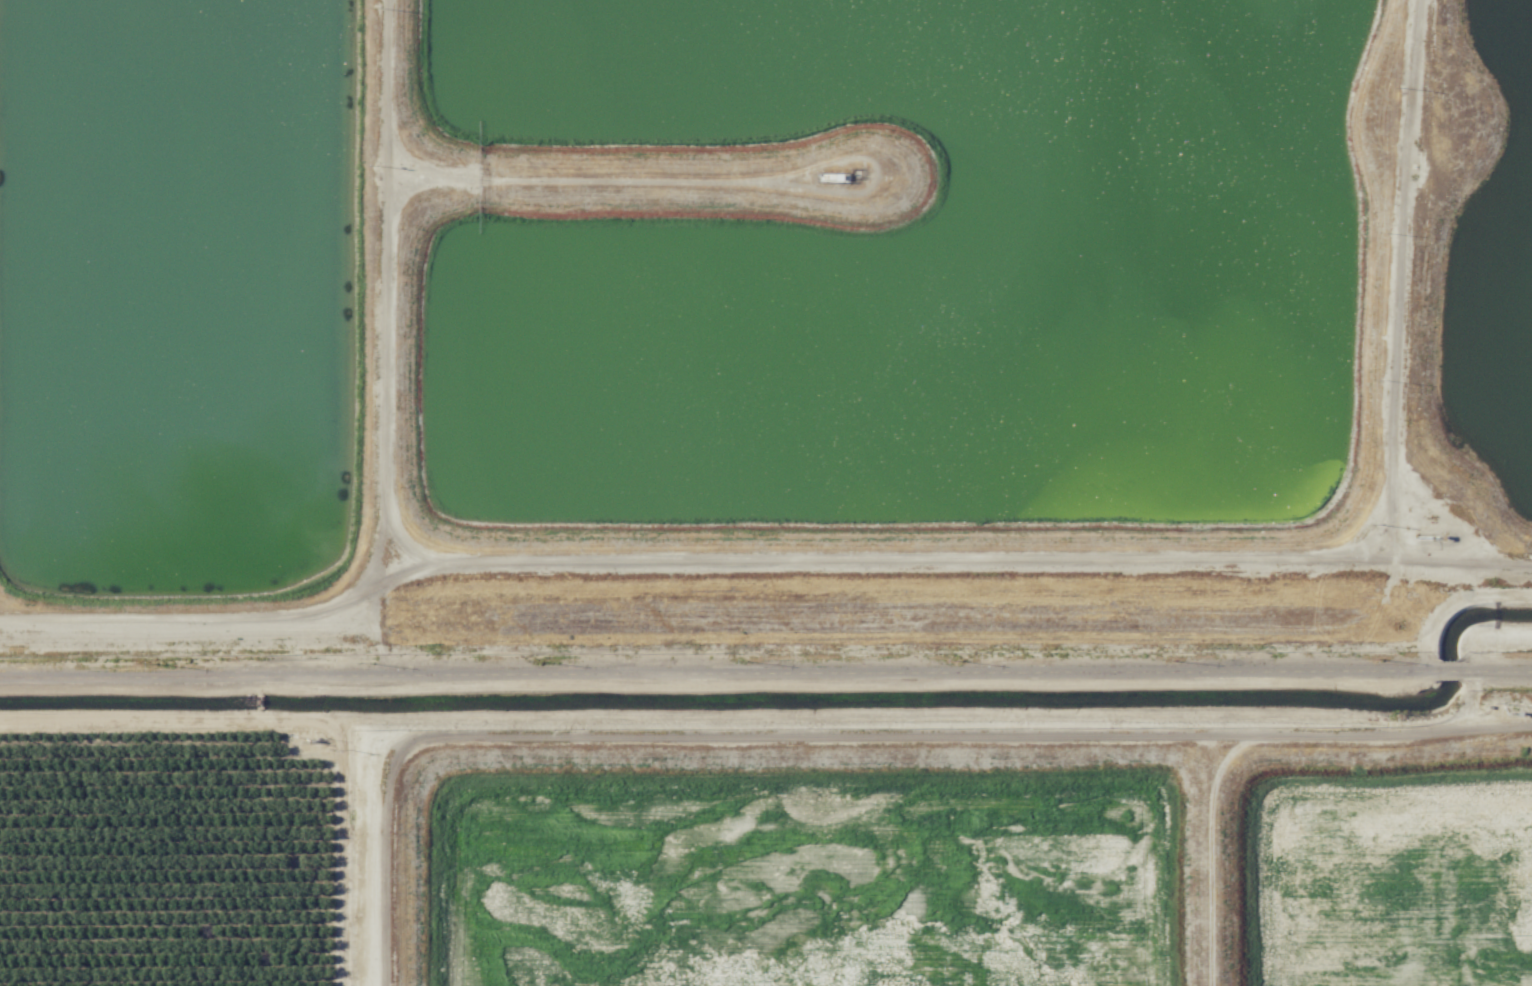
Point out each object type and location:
wastewater plant: (900, 271)
road: (1400, 279)
wastewater plant: (165, 283)
wastewater plant: (1489, 283)
road: (387, 293)
wastewater plant: (809, 467)
road: (760, 559)
road: (1507, 637)
road: (765, 671)
road: (166, 719)
road: (337, 721)
road: (1378, 732)
road: (821, 733)
road: (344, 852)
wastewater plant: (796, 880)
wastewater plant: (1396, 885)

